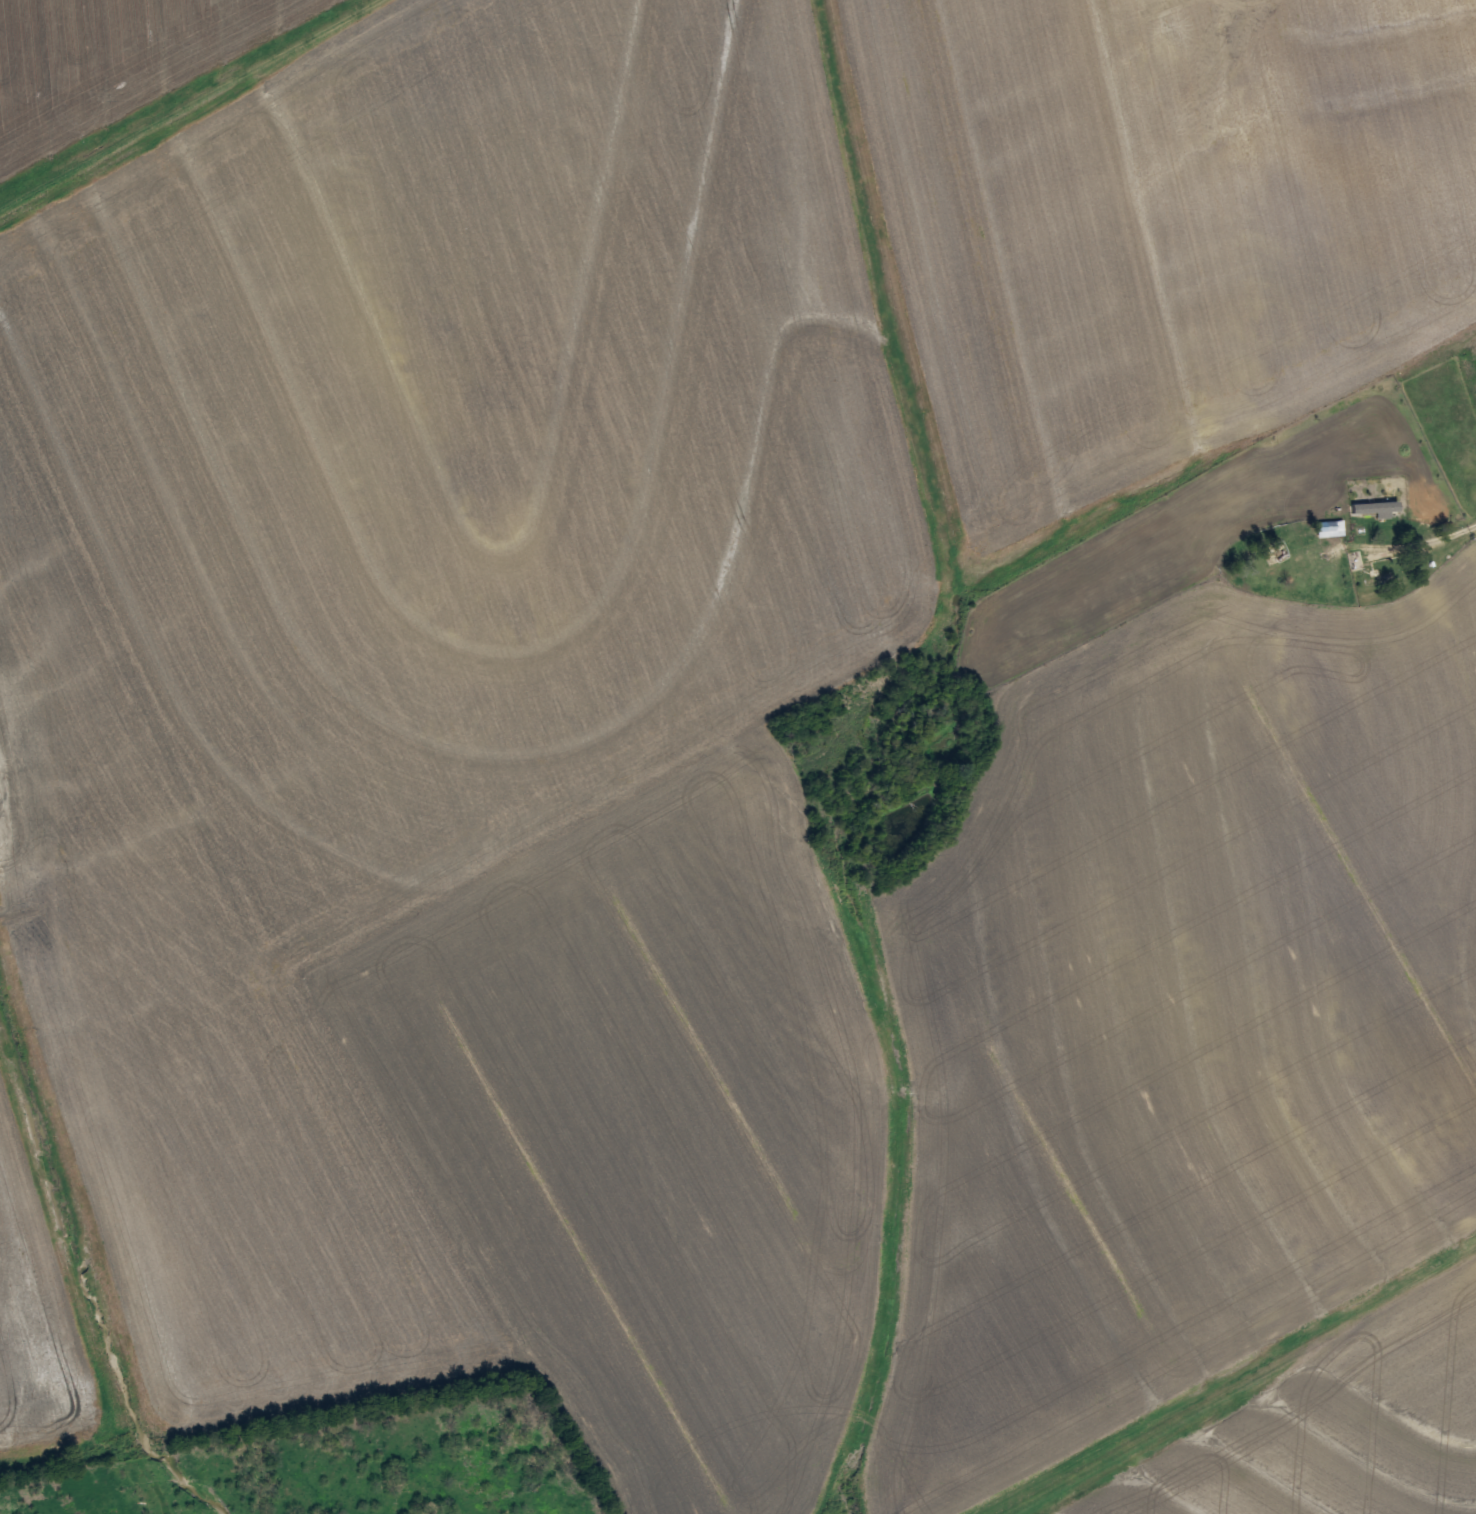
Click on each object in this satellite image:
crop: (116, 64)
crop: (1162, 226)
road: (1444, 543)
building: (1380, 577)

